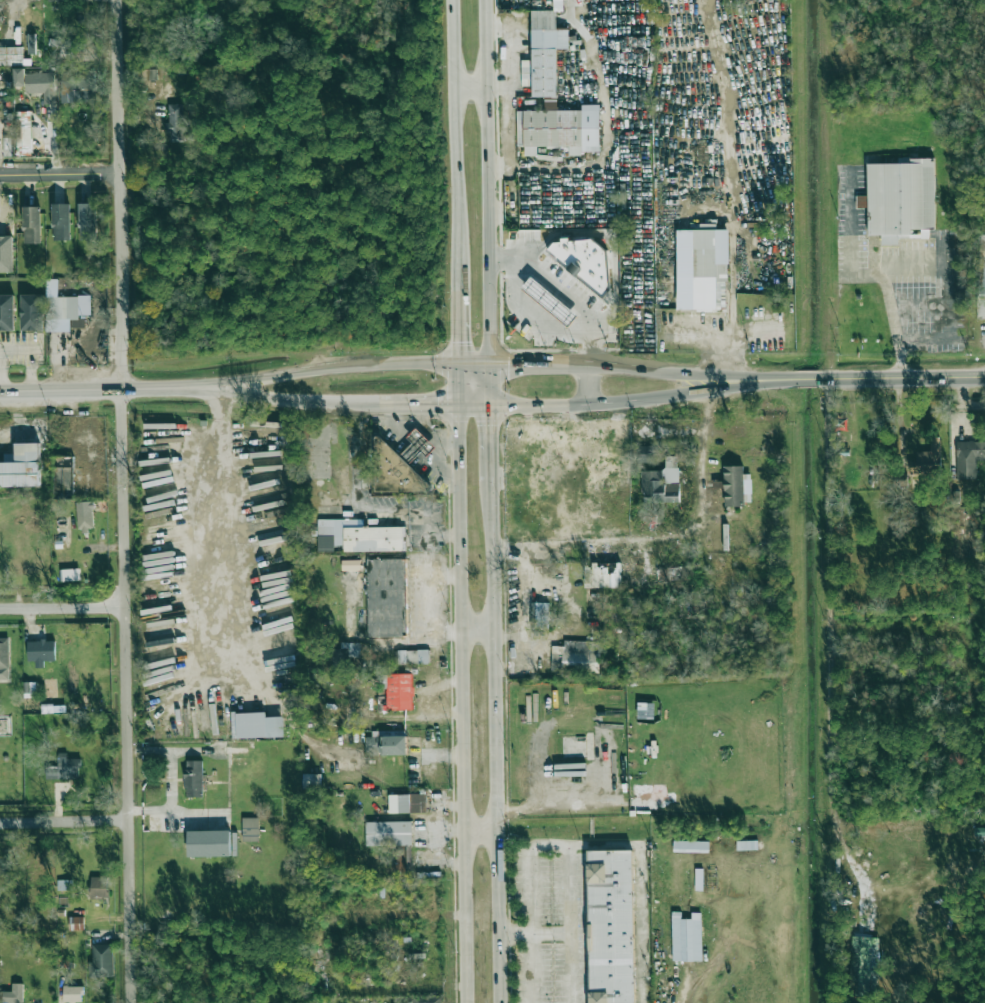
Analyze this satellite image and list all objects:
building: (61, 0)
building: (31, 43)
building: (61, 48)
building: (11, 56)
building: (37, 84)
building: (78, 87)
road: (511, 90)
road: (469, 92)
building: (552, 96)
road: (605, 120)
building: (174, 123)
building: (23, 131)
road: (452, 145)
road: (501, 170)
road: (60, 178)
road: (487, 182)
building: (900, 200)
road: (731, 201)
building: (861, 201)
building: (87, 221)
building: (61, 222)
building: (32, 224)
building: (6, 254)
building: (584, 262)
road: (876, 275)
building: (981, 277)
road: (946, 285)
road: (563, 290)
building: (549, 302)
gas station: (549, 302)
building: (32, 312)
building: (7, 313)
building: (66, 313)
road: (529, 313)
road: (724, 336)
traffic signals: (455, 341)
road: (455, 346)
road: (348, 365)
road: (512, 365)
traffic signals: (514, 366)
road: (690, 373)
road: (897, 380)
road: (588, 385)
road: (122, 391)
road: (650, 396)
road: (307, 399)
road: (430, 404)
traffic signals: (432, 404)
road: (574, 416)
road: (490, 422)
traffic signals: (490, 422)
road: (588, 427)
building: (417, 447)
gas station: (417, 447)
building: (968, 458)
building: (927, 459)
building: (22, 467)
building: (395, 472)
road: (516, 472)
road: (503, 473)
building: (582, 480)
building: (661, 483)
building: (736, 486)
road: (124, 501)
road: (412, 514)
building: (84, 516)
road: (213, 522)
building: (362, 536)
road: (662, 536)
road: (428, 551)
building: (348, 564)
building: (677, 574)
building: (69, 575)
building: (602, 575)
building: (386, 597)
road: (425, 602)
road: (523, 604)
road: (63, 609)
building: (541, 615)
road: (476, 629)
road: (362, 634)
road: (829, 640)
building: (350, 649)
building: (41, 651)
building: (576, 656)
building: (413, 657)
building: (4, 658)
building: (399, 691)
road: (458, 703)
building: (257, 725)
road: (496, 741)
building: (385, 744)
building: (239, 755)
building: (64, 768)
building: (193, 778)
building: (312, 781)
building: (209, 782)
road: (549, 801)
building: (406, 803)
road: (64, 822)
road: (479, 824)
building: (250, 829)
building: (388, 833)
building: (209, 843)
building: (747, 845)
building: (690, 846)
road: (533, 871)
building: (698, 879)
building: (65, 885)
building: (99, 886)
road: (640, 889)
building: (77, 923)
road: (569, 924)
building: (611, 926)
building: (686, 939)
building: (102, 961)
road: (533, 968)
road: (571, 968)
building: (862, 973)
building: (14, 994)
building: (73, 994)
building: (427, 1000)

